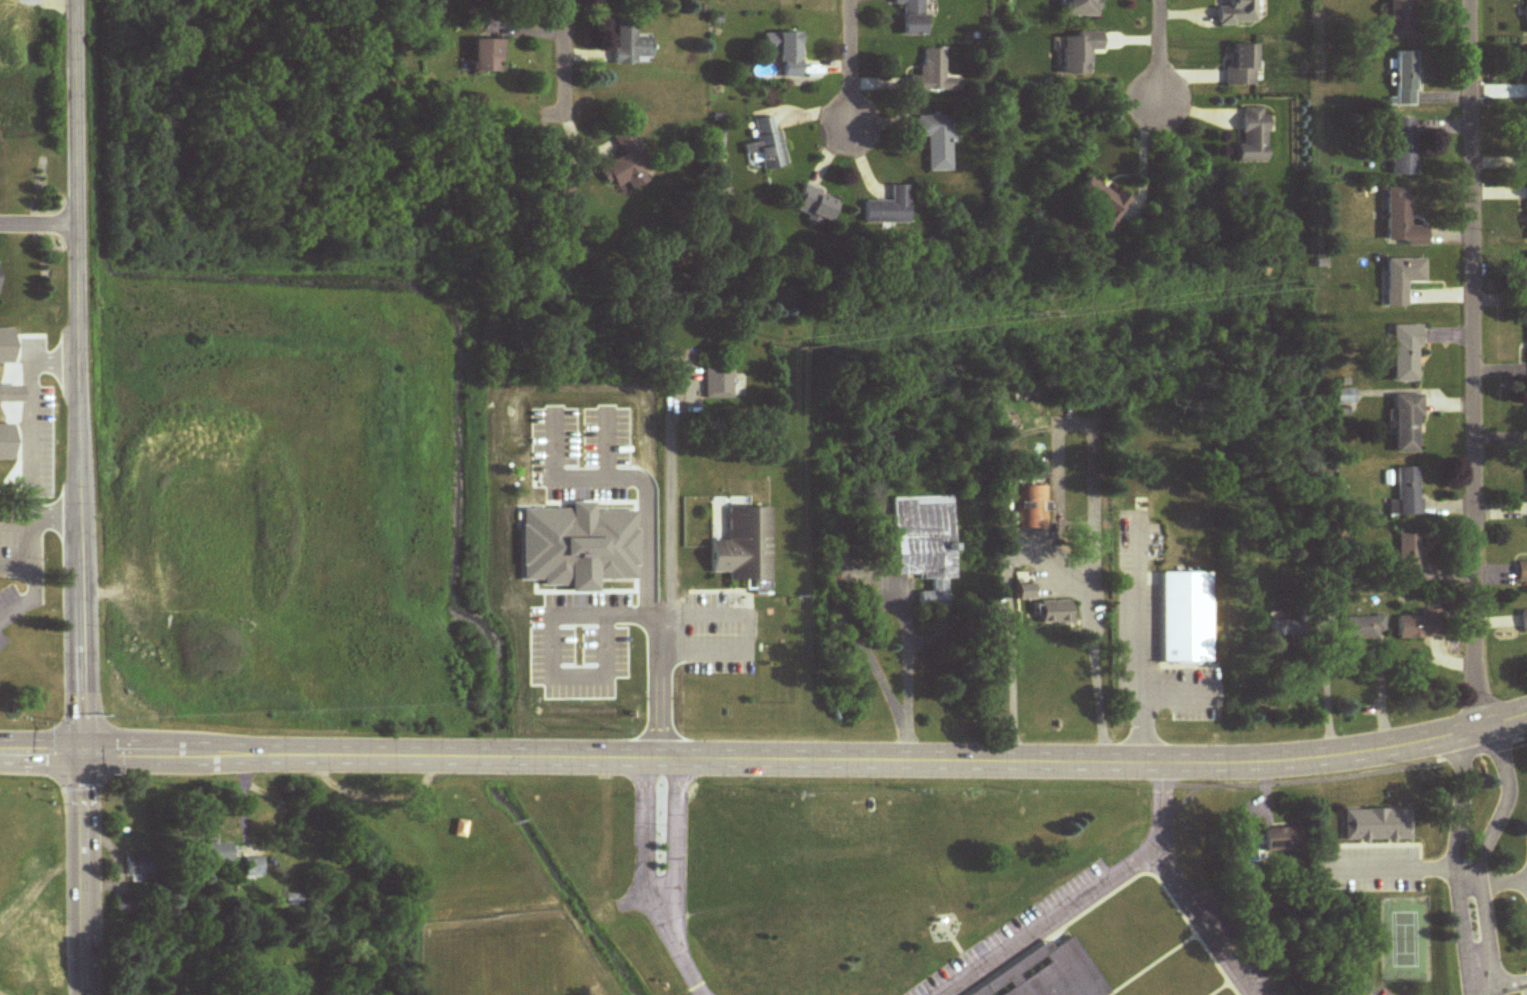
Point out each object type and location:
building: (1079, 8)
building: (1237, 14)
building: (913, 17)
building: (1526, 18)
building: (1401, 20)
building: (630, 44)
building: (785, 53)
building: (1077, 53)
building: (486, 57)
road: (563, 57)
road: (1158, 63)
building: (1241, 67)
road: (850, 68)
building: (933, 76)
building: (1405, 79)
building: (1254, 136)
building: (1526, 141)
building: (936, 142)
building: (766, 146)
building: (1404, 148)
building: (628, 164)
building: (563, 197)
building: (1101, 203)
building: (815, 205)
building: (890, 208)
building: (1401, 220)
road: (37, 227)
building: (1402, 280)
building: (1526, 280)
building: (1406, 354)
road: (1474, 363)
building: (719, 384)
building: (1408, 424)
building: (1042, 473)
road: (31, 474)
building: (1407, 491)
road: (674, 492)
road: (77, 497)
building: (1034, 507)
road: (55, 514)
building: (925, 544)
building: (744, 546)
building: (1408, 558)
road: (1036, 563)
building: (1522, 572)
road: (638, 577)
building: (1024, 585)
building: (1324, 608)
building: (1524, 621)
road: (741, 627)
building: (1419, 627)
building: (1285, 628)
building: (1364, 628)
road: (542, 654)
road: (1134, 667)
road: (1326, 693)
traffic signals: (81, 750)
road: (765, 756)
building: (1377, 826)
road: (667, 827)
building: (460, 829)
building: (1283, 839)
road: (1488, 839)
road: (1454, 846)
building: (217, 854)
building: (139, 864)
building: (253, 868)
road: (1406, 869)
road: (1523, 880)
road: (1179, 884)
road: (1504, 884)
road: (36, 888)
building: (293, 900)
building: (124, 906)
road: (1043, 921)
road: (679, 949)
building: (1054, 972)
road: (1502, 977)
road: (1476, 979)

